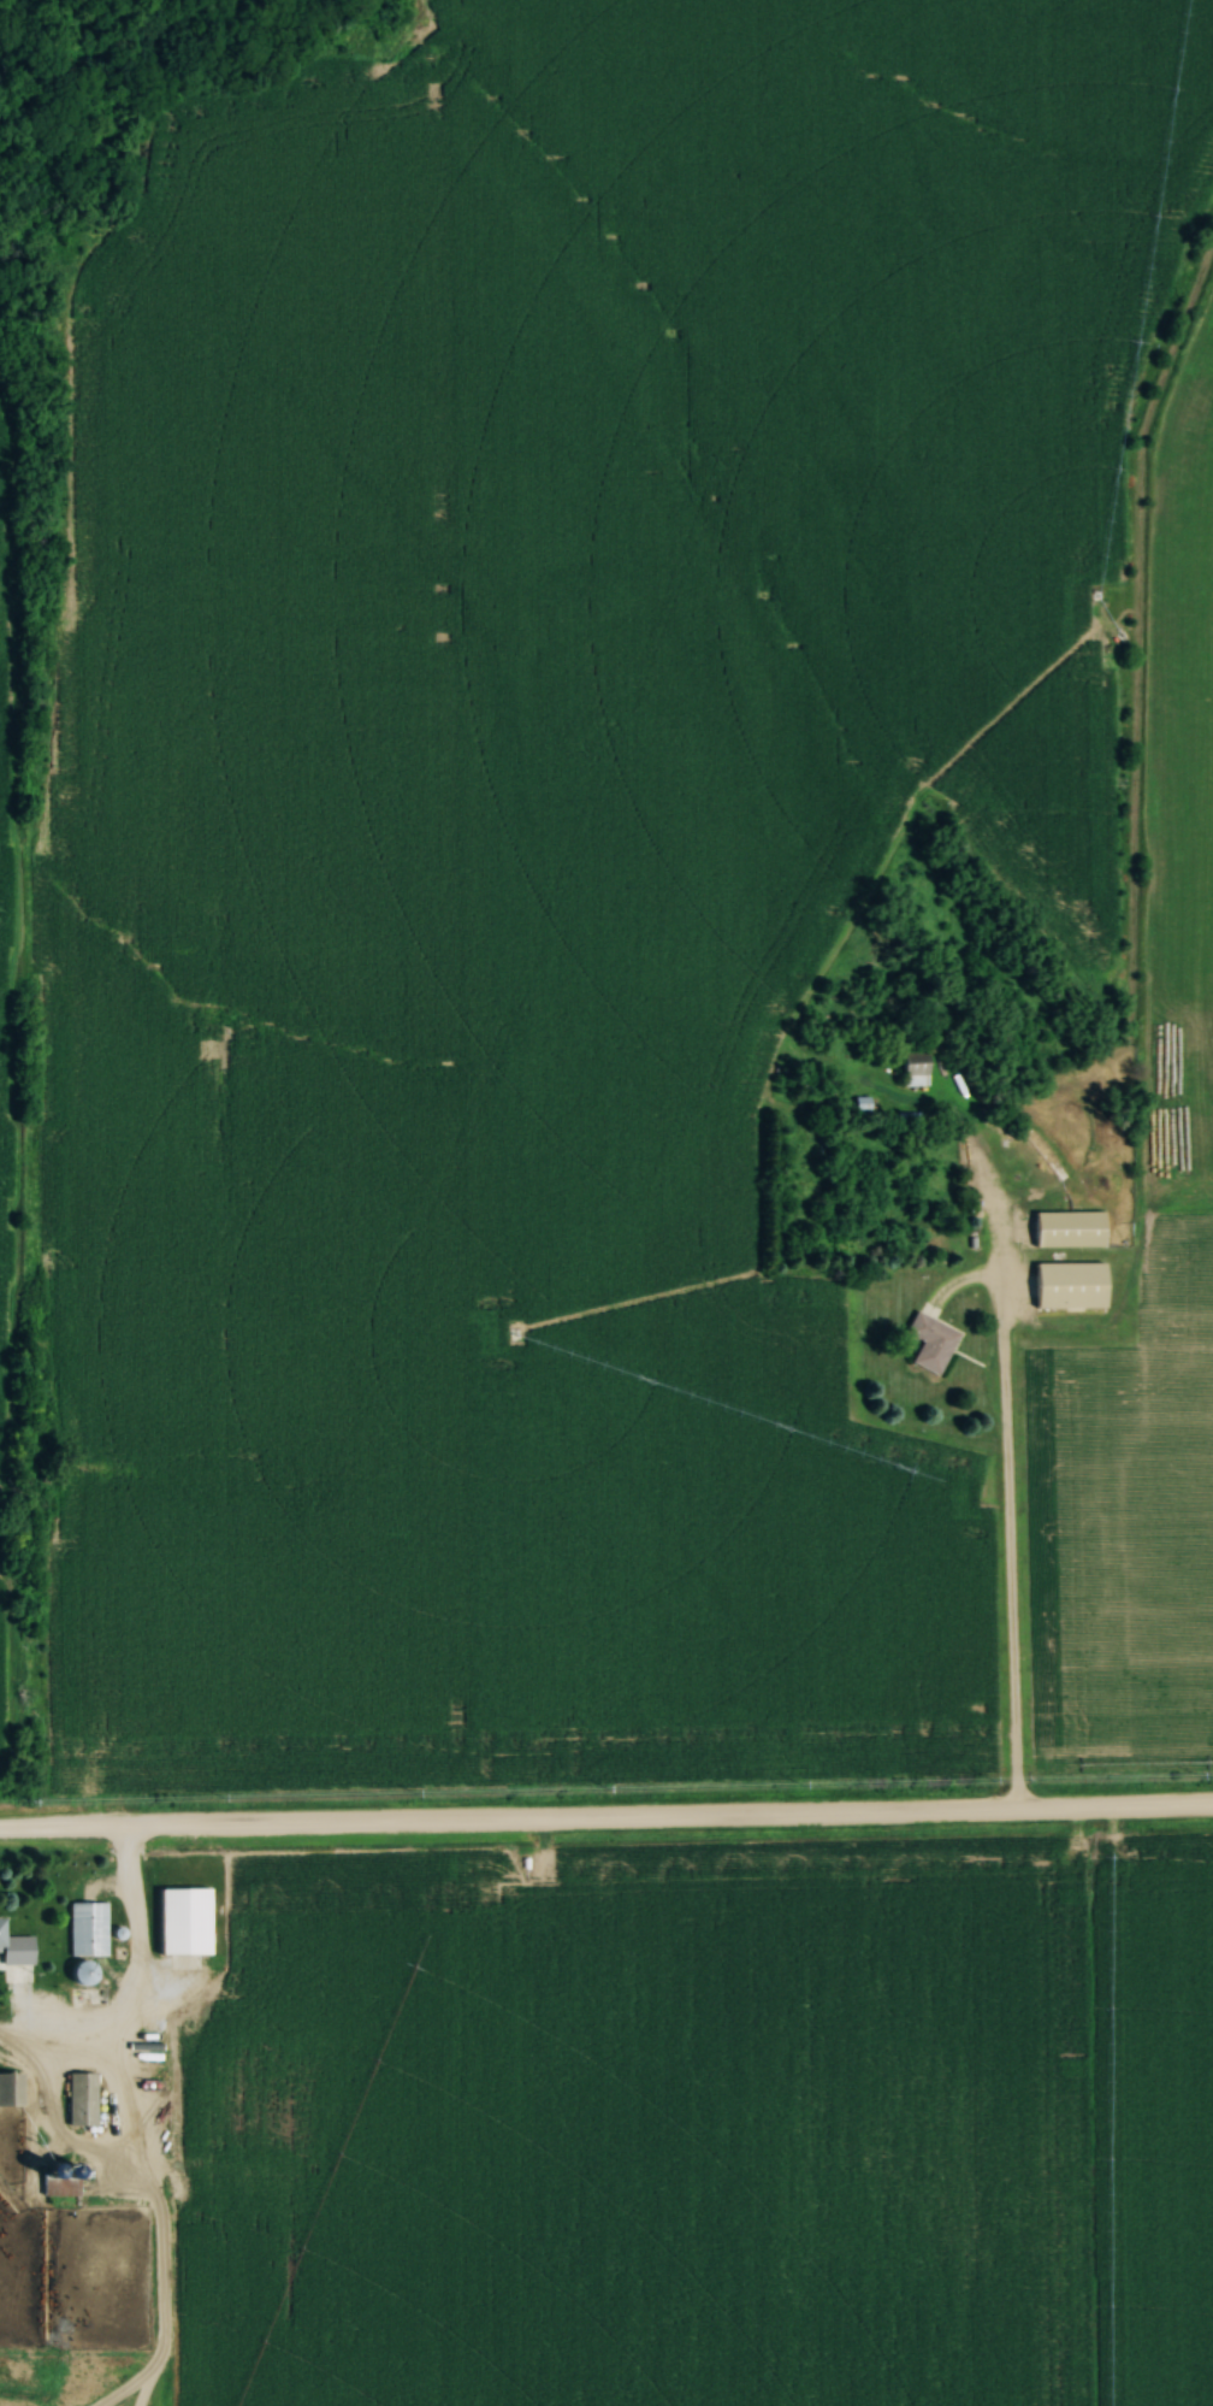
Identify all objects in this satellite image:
building: (916, 1067)
building: (1071, 1228)
building: (1071, 1284)
building: (933, 1340)
road: (1004, 1511)
road: (606, 1821)
building: (185, 1921)
building: (88, 1929)
building: (2, 1934)
building: (85, 1972)
building: (6, 2089)
building: (82, 2099)
building: (63, 2181)
building: (106, 2234)

